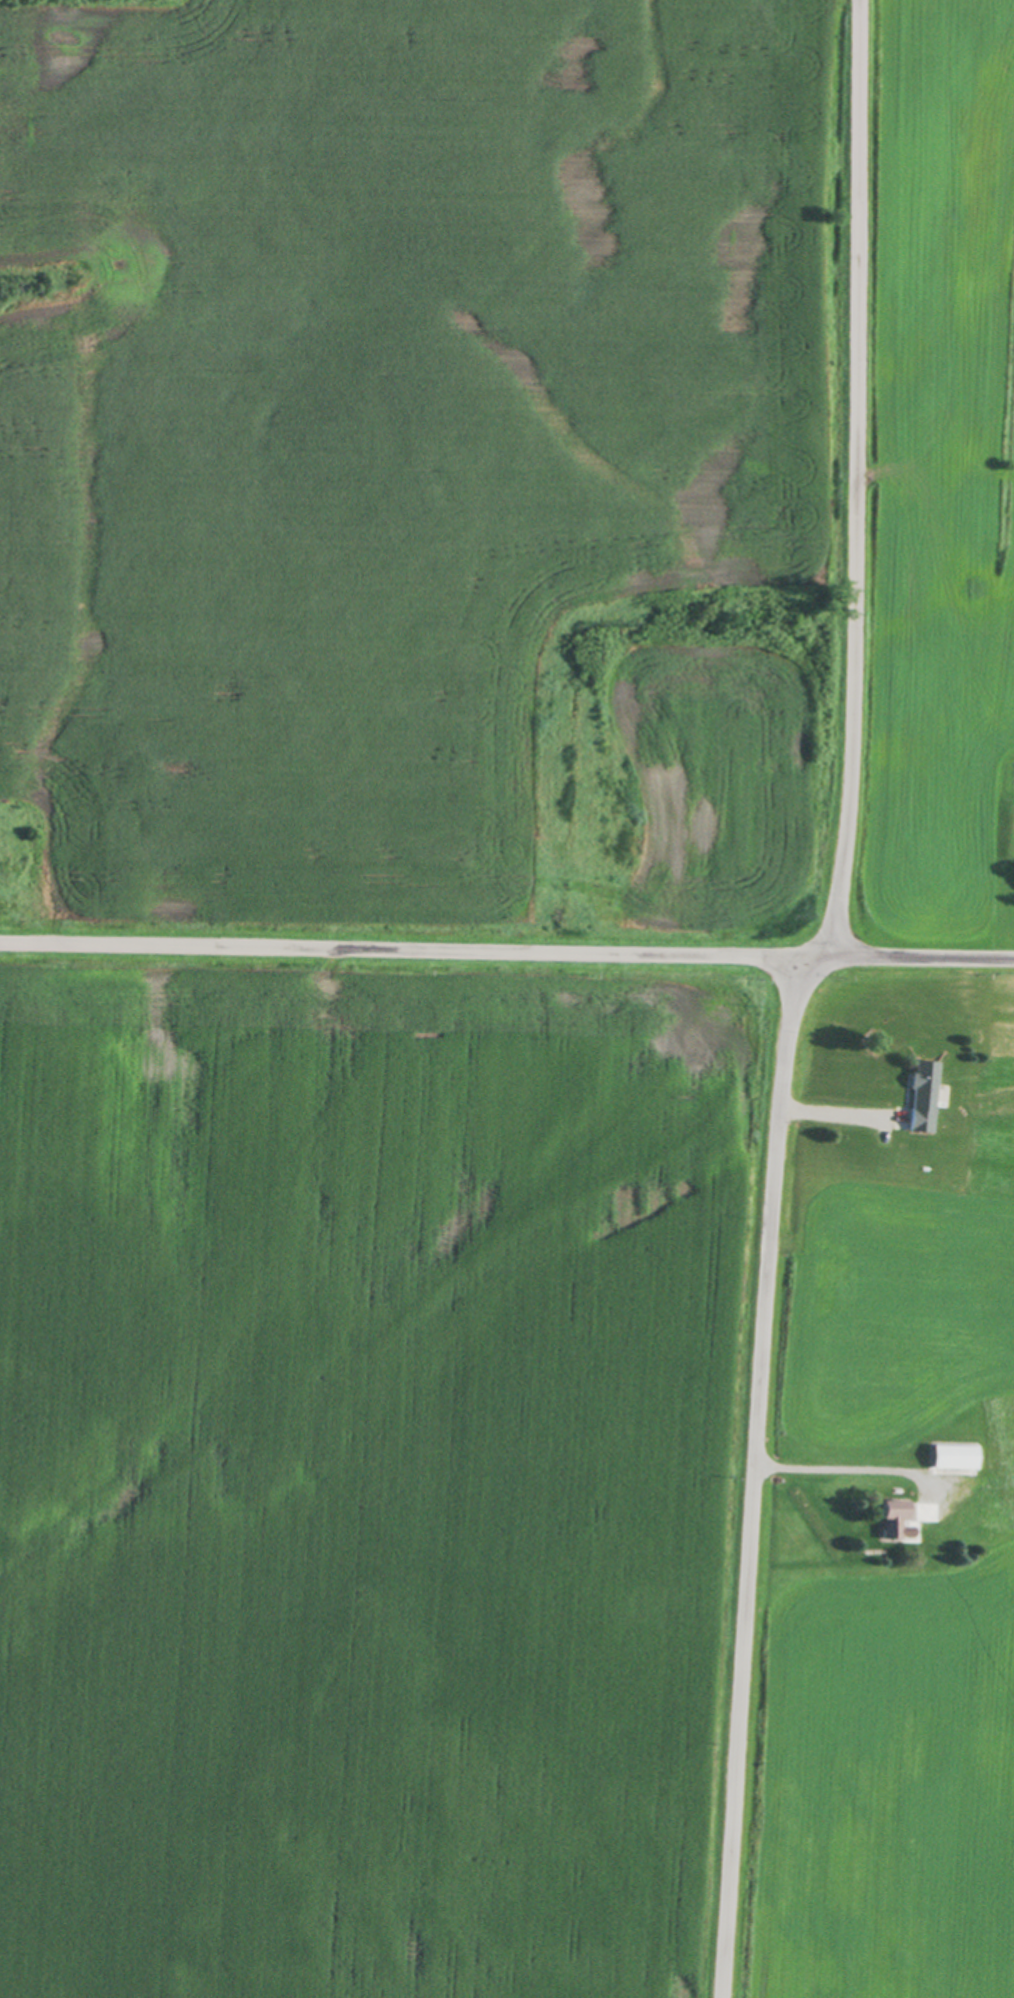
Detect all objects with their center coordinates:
road: (506, 955)
road: (789, 994)
building: (920, 1097)
road: (826, 1113)
building: (953, 1460)
road: (851, 1472)
building: (900, 1521)

